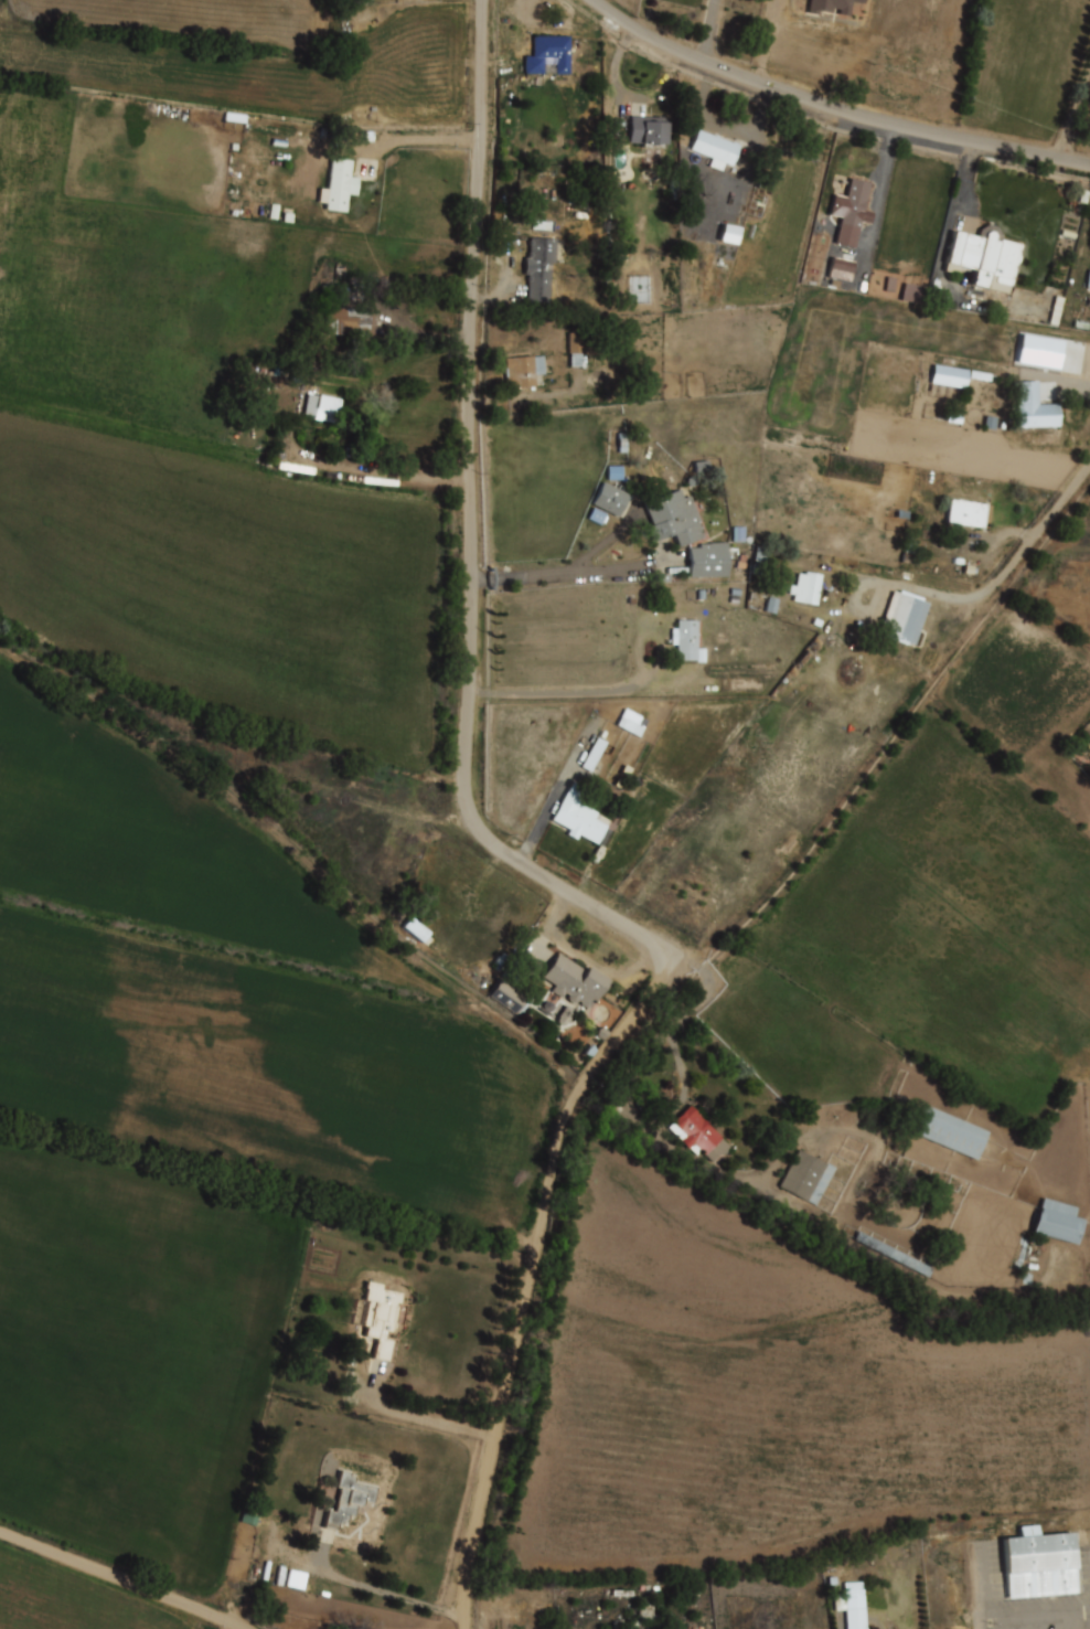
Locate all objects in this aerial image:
building: (832, 7)
building: (548, 56)
road: (836, 107)
road: (1075, 110)
building: (648, 131)
building: (714, 148)
road: (416, 150)
building: (340, 184)
building: (854, 204)
building: (728, 234)
building: (984, 256)
building: (840, 266)
building: (541, 268)
building: (912, 294)
building: (345, 322)
building: (524, 370)
building: (948, 376)
building: (323, 407)
building: (1034, 409)
building: (609, 499)
building: (970, 513)
building: (674, 518)
road: (1005, 569)
building: (806, 588)
building: (904, 617)
building: (687, 641)
building: (631, 723)
building: (595, 756)
building: (578, 817)
road: (521, 862)
building: (415, 929)
building: (574, 982)
building: (509, 998)
road: (673, 1026)
building: (950, 1132)
building: (698, 1136)
building: (805, 1178)
building: (1056, 1221)
building: (891, 1254)
building: (1030, 1255)
building: (380, 1317)
building: (348, 1498)
building: (1038, 1563)
road: (125, 1577)
road: (980, 1583)
building: (852, 1605)
building: (644, 1610)
road: (1036, 1615)

